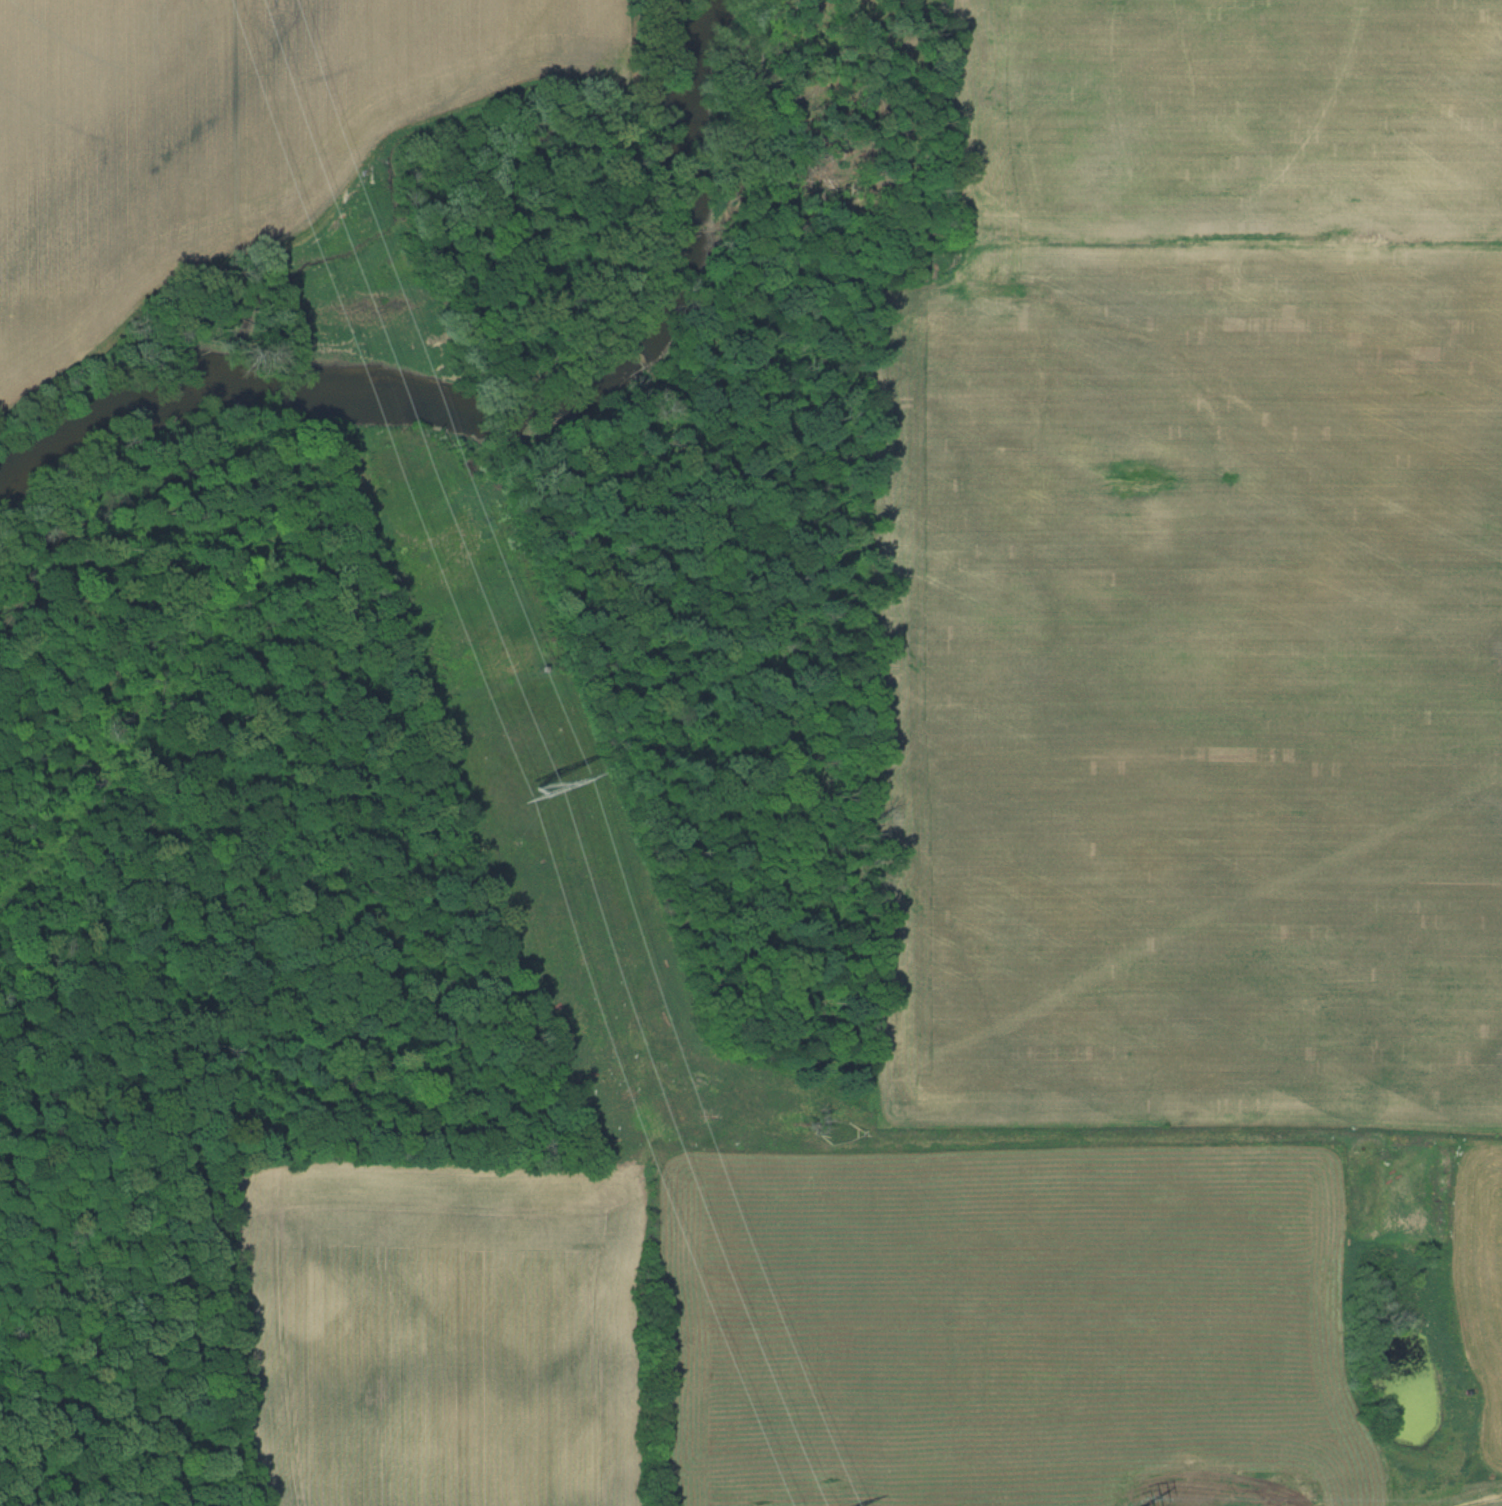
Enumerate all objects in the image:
river: (506, 426)
power tower: (533, 786)

